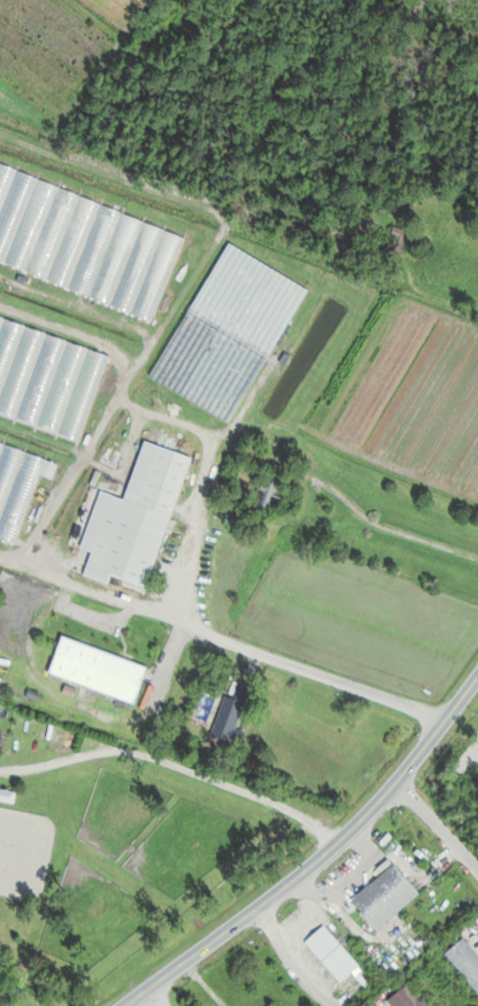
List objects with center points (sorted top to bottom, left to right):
building: (84, 244)
building: (218, 351)
building: (47, 377)
building: (20, 480)
building: (270, 493)
building: (135, 519)
road: (222, 637)
building: (98, 669)
building: (230, 716)
building: (0, 738)
road: (176, 764)
building: (7, 795)
road: (437, 827)
road: (318, 859)
building: (385, 896)
building: (332, 953)
road: (288, 960)
building: (465, 961)
road: (158, 995)
building: (405, 998)

